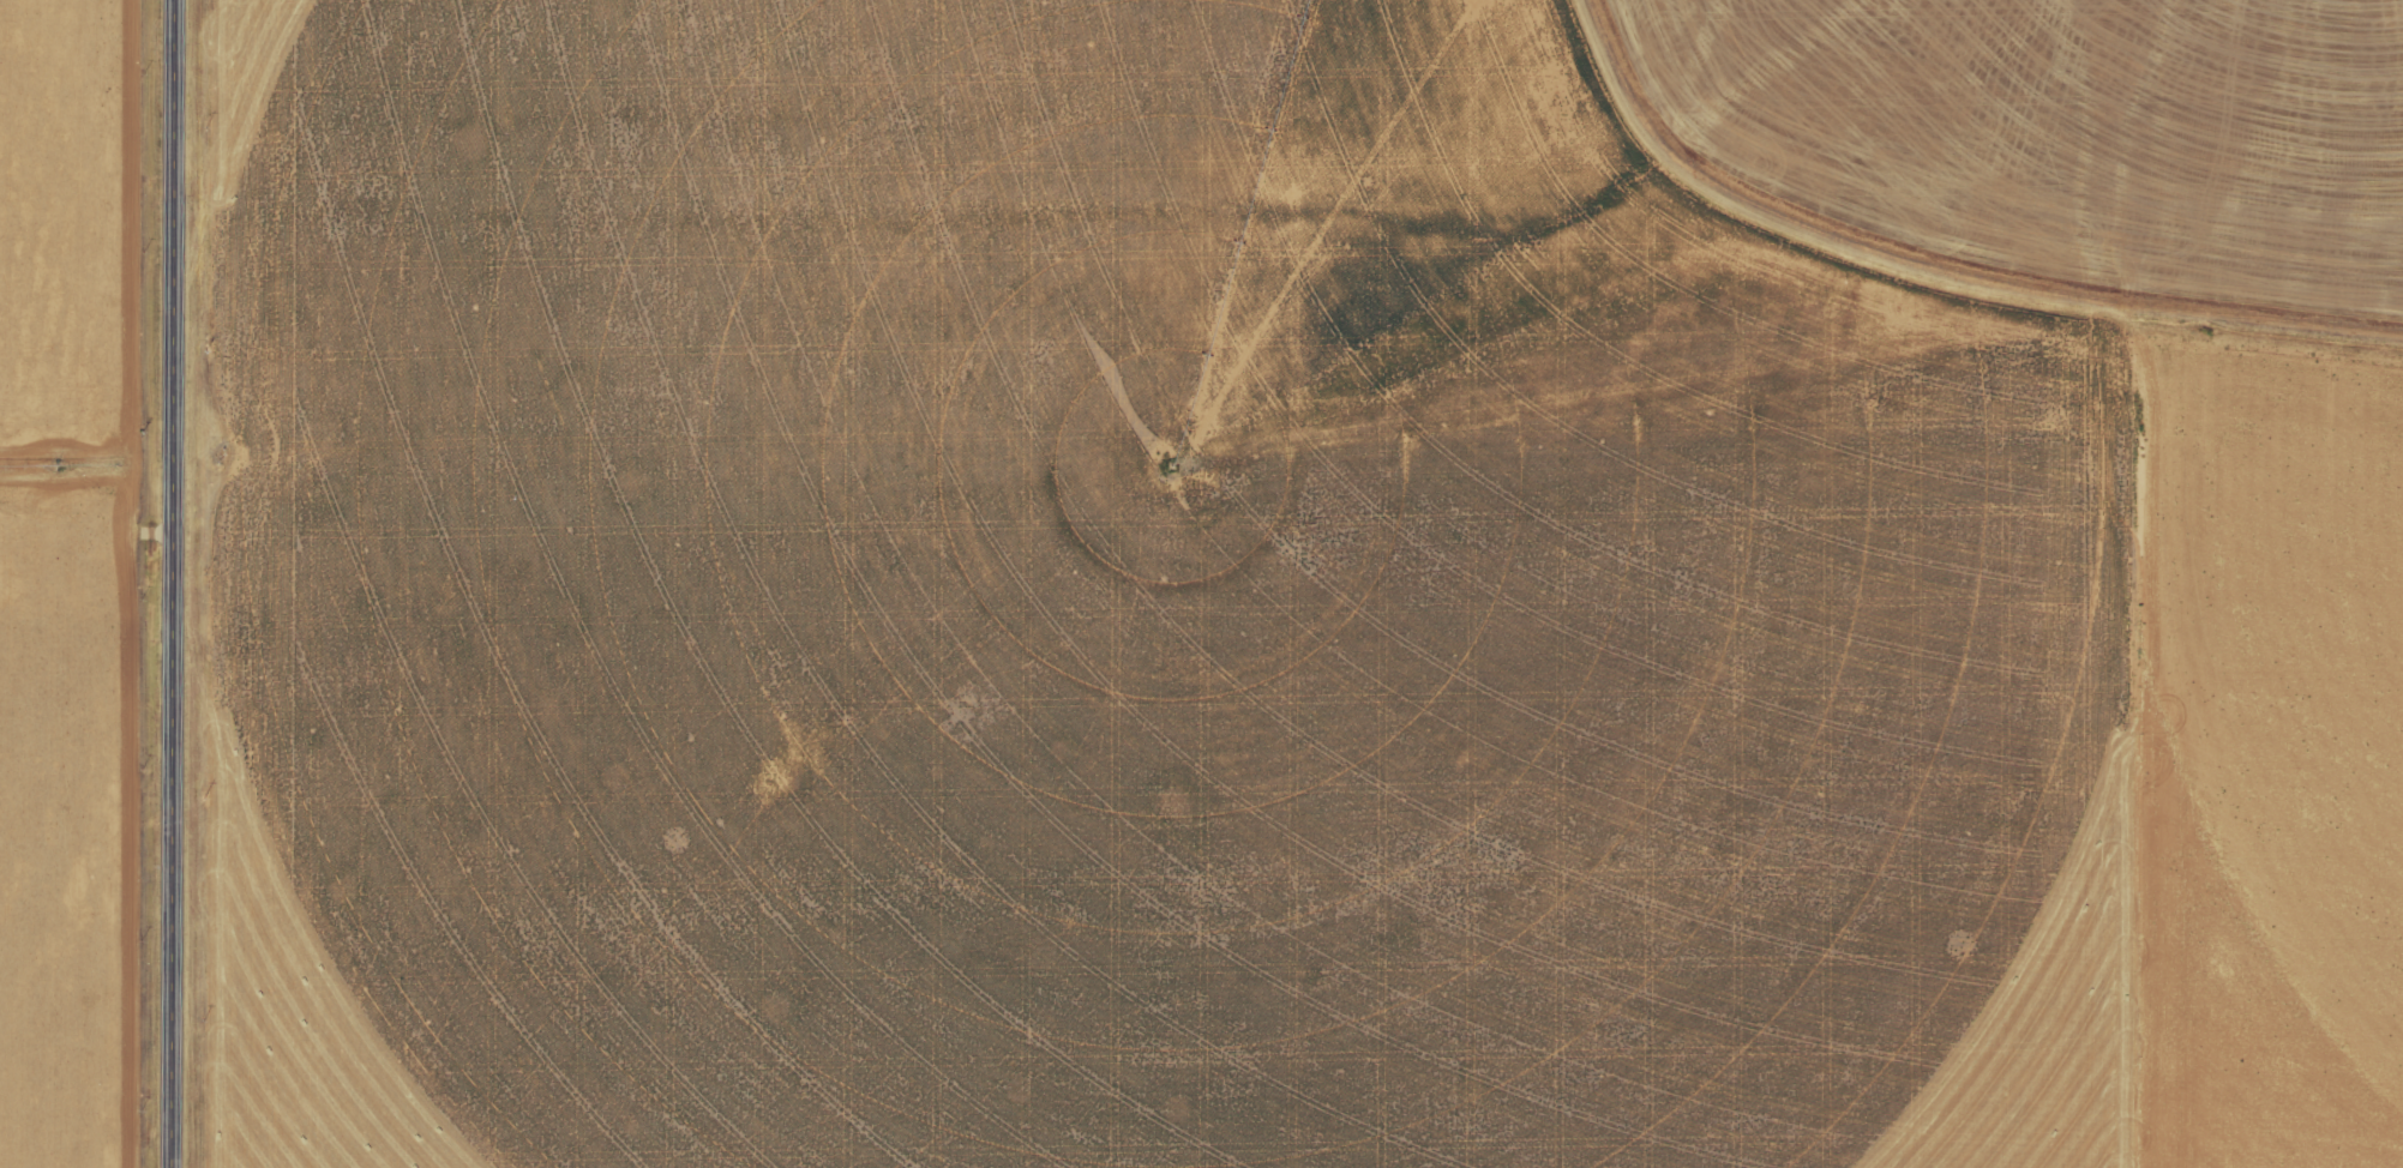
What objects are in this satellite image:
road: (941, 198)
road: (182, 583)

